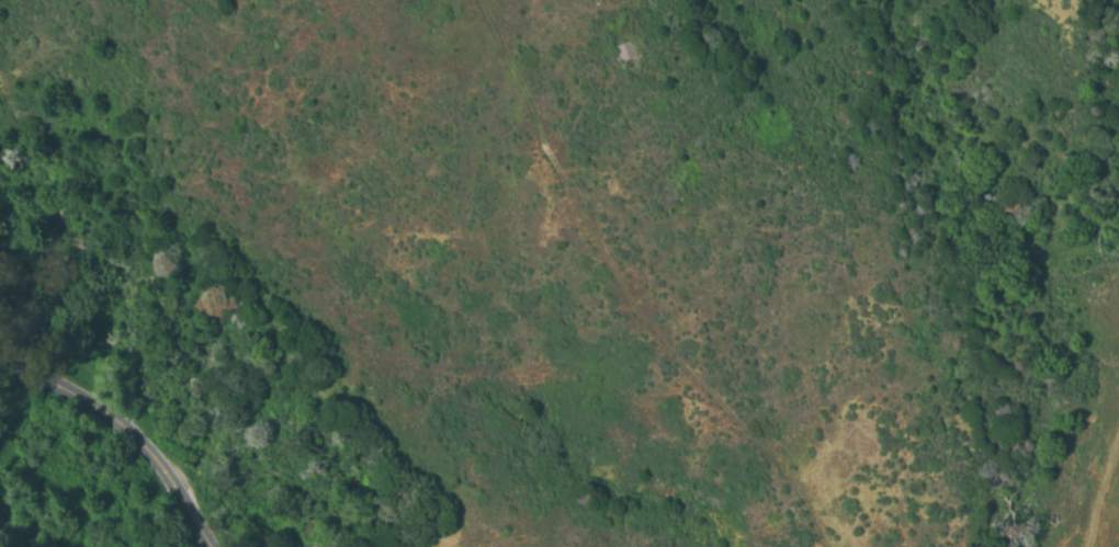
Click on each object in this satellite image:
building: (625, 52)
road: (128, 428)

